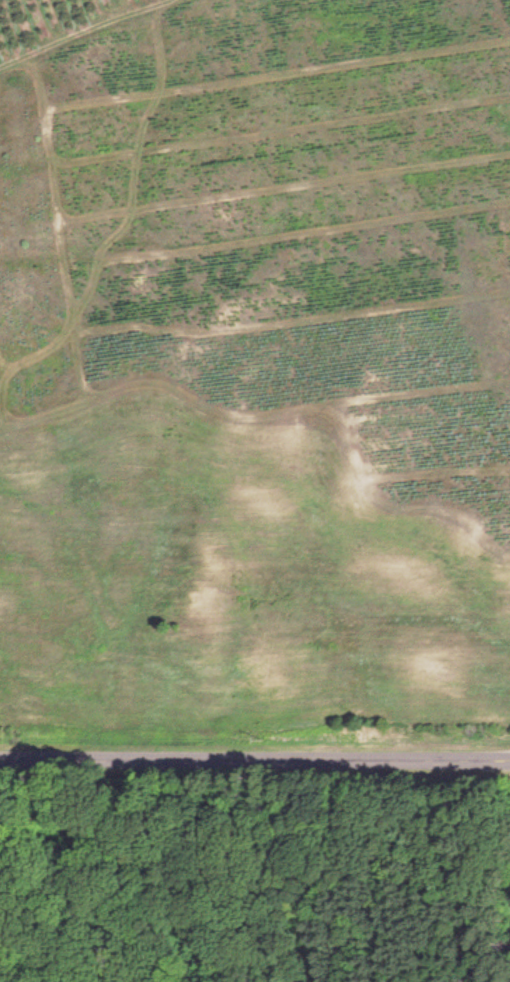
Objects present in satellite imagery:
road: (255, 755)

